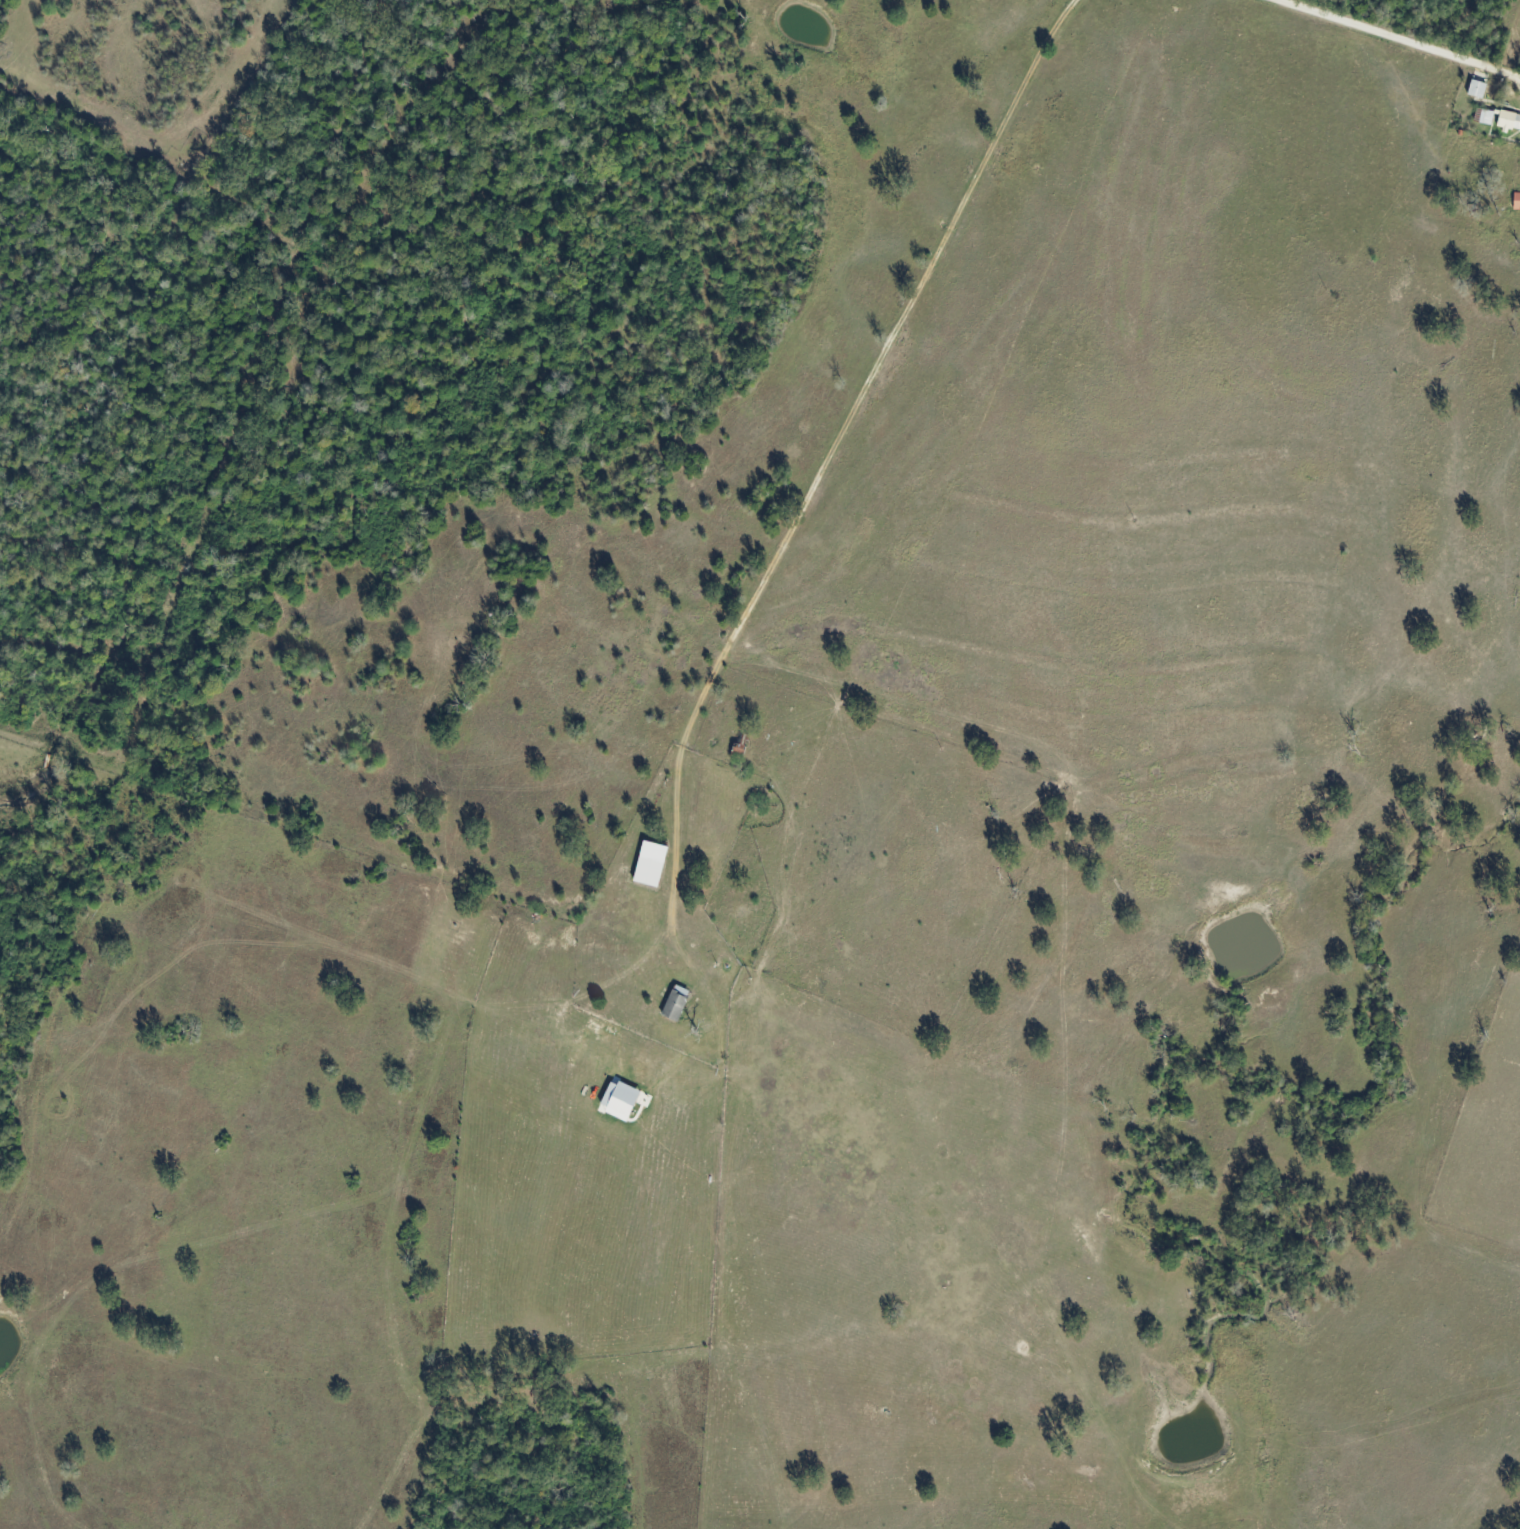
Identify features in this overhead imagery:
road: (1392, 35)
building: (1478, 89)
building: (1488, 118)
building: (1510, 121)
building: (1517, 202)
building: (652, 865)
building: (678, 1002)
building: (622, 1099)

